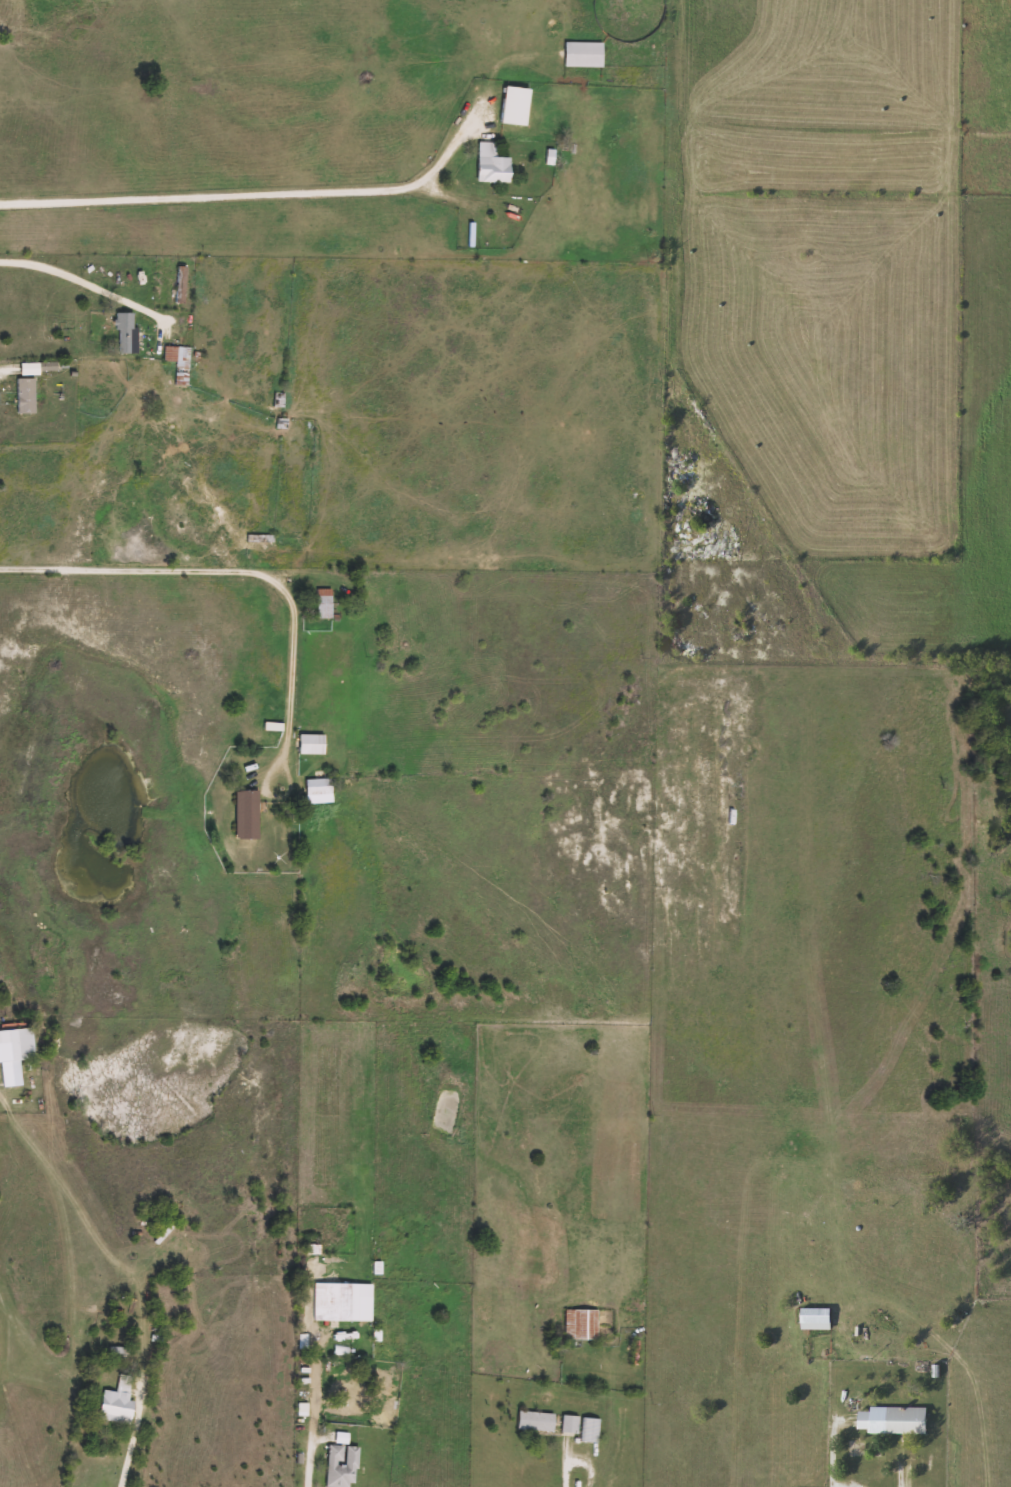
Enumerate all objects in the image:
building: (585, 54)
building: (495, 170)
road: (217, 196)
road: (85, 279)
building: (182, 284)
building: (128, 333)
building: (180, 362)
building: (27, 395)
building: (279, 400)
building: (261, 538)
road: (243, 571)
building: (324, 603)
building: (312, 744)
building: (319, 790)
building: (248, 814)
building: (15, 1054)
building: (343, 1302)
building: (582, 1324)
building: (353, 1391)
building: (120, 1401)
building: (899, 1418)
building: (537, 1421)
building: (572, 1424)
building: (592, 1430)
road: (313, 1431)
road: (133, 1443)
road: (566, 1463)
building: (343, 1466)
road: (587, 1467)

